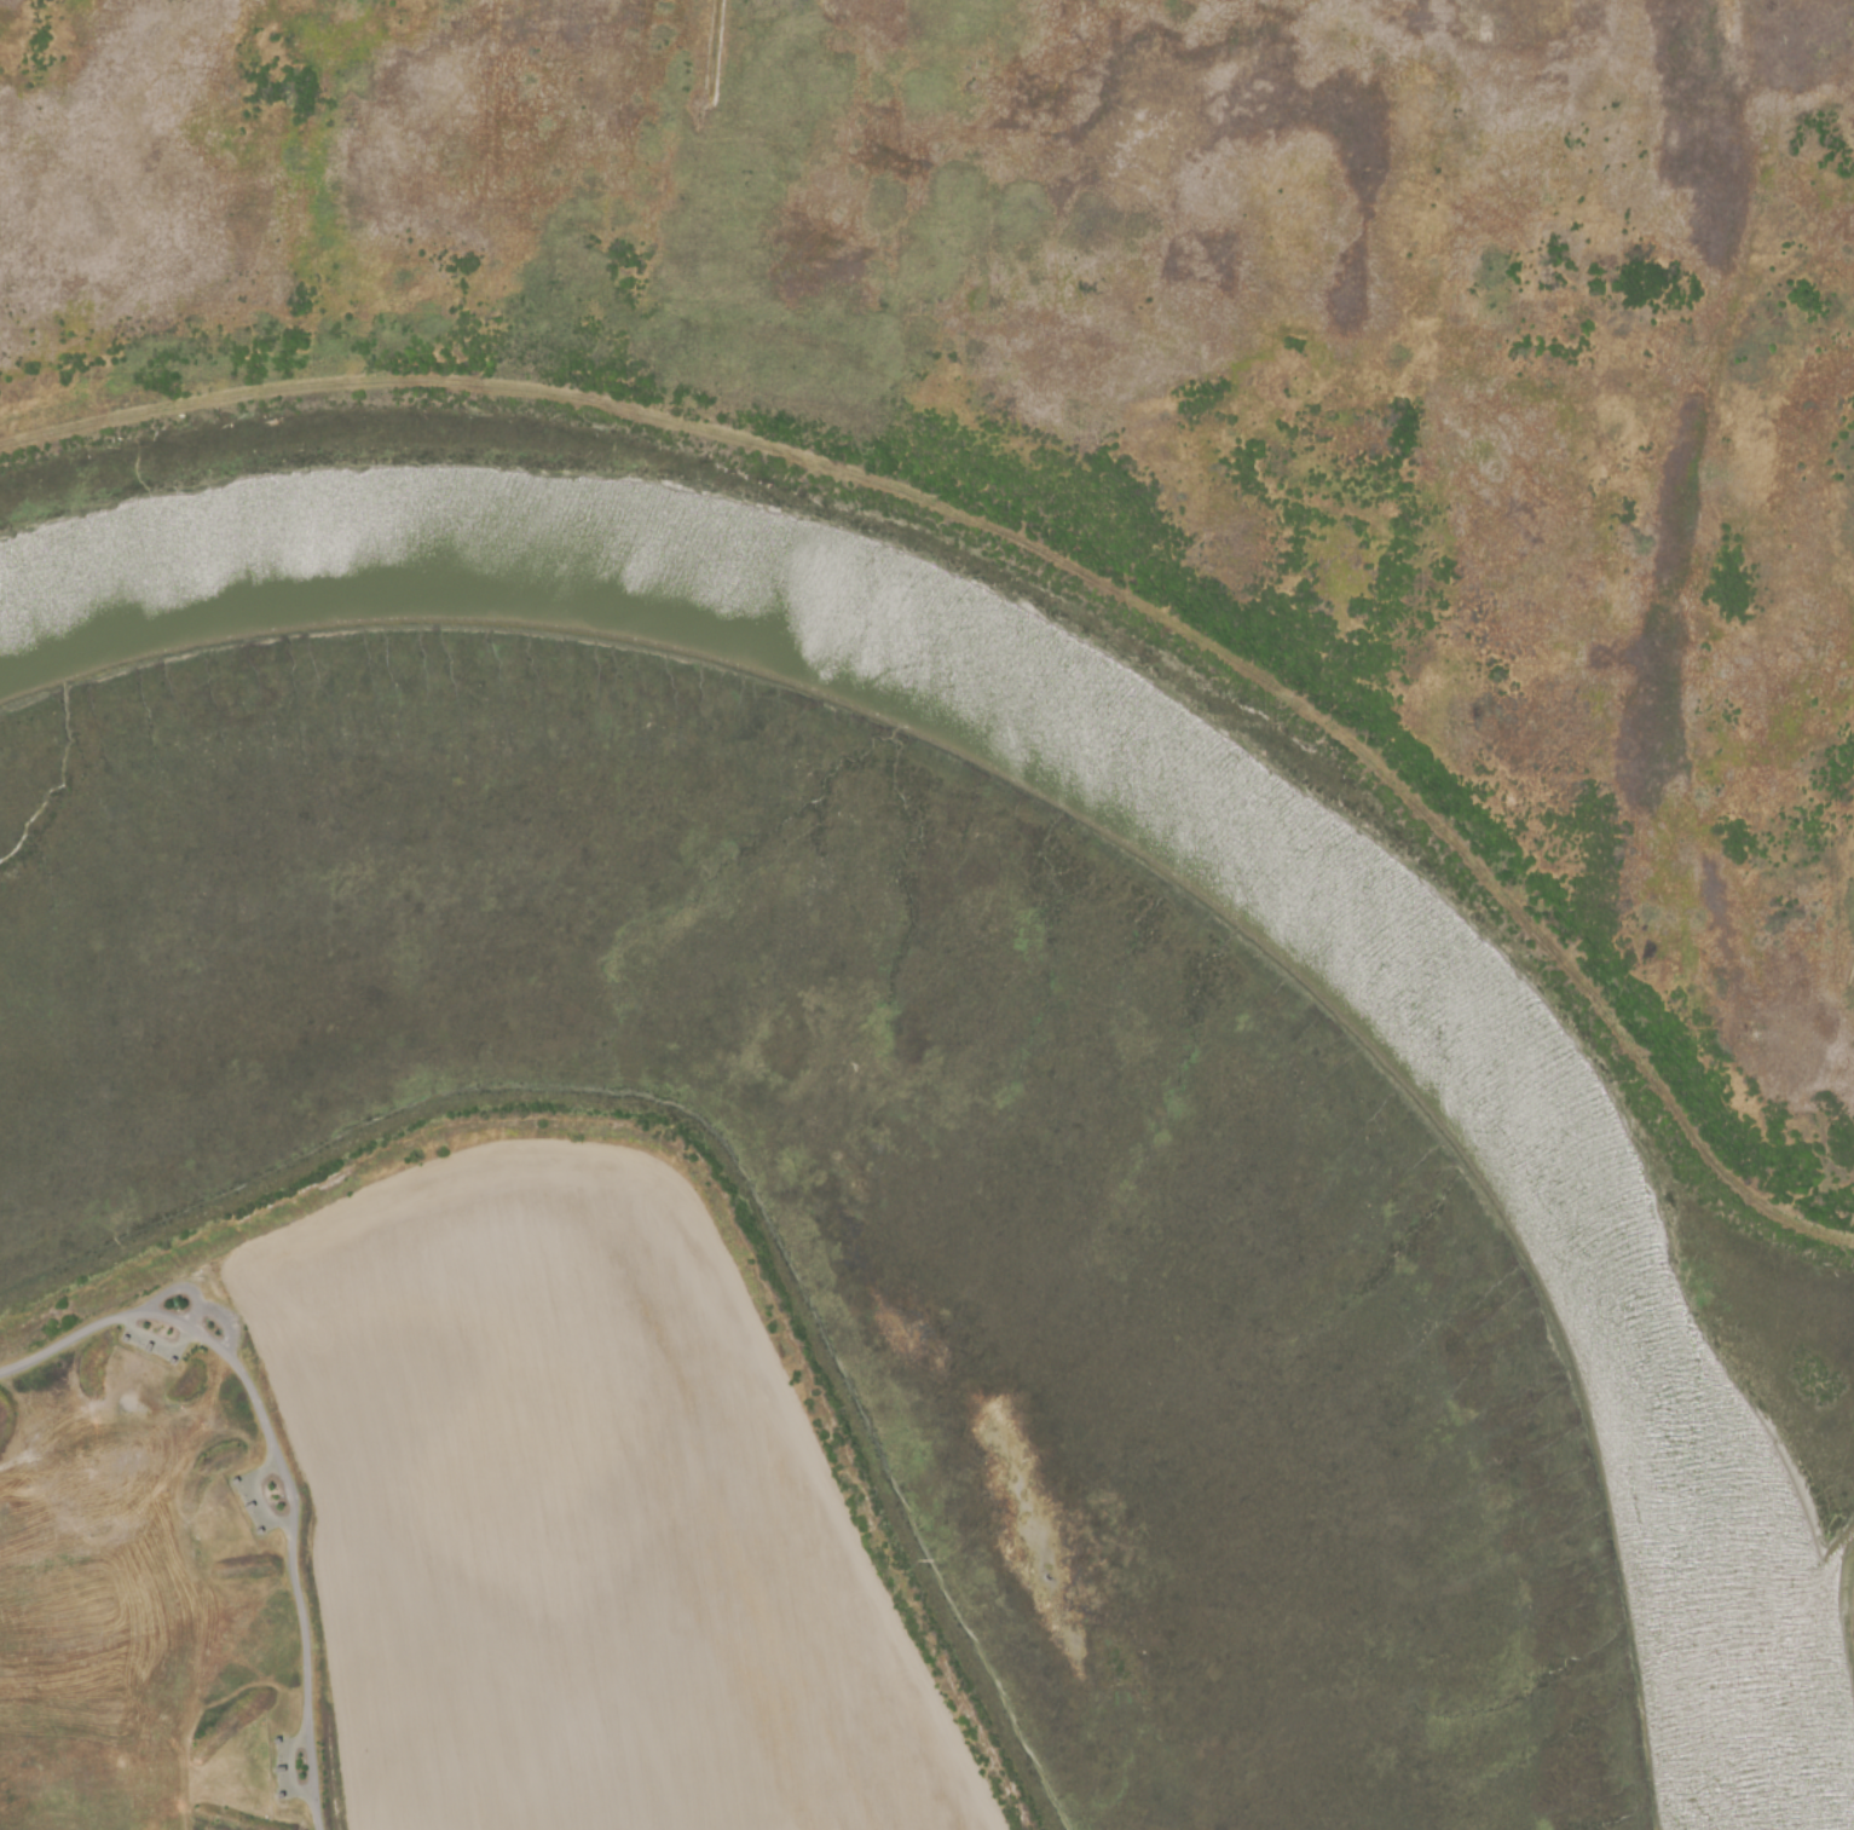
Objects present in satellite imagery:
road: (196, 1297)
road: (192, 1312)
road: (281, 1464)
road: (254, 1496)

